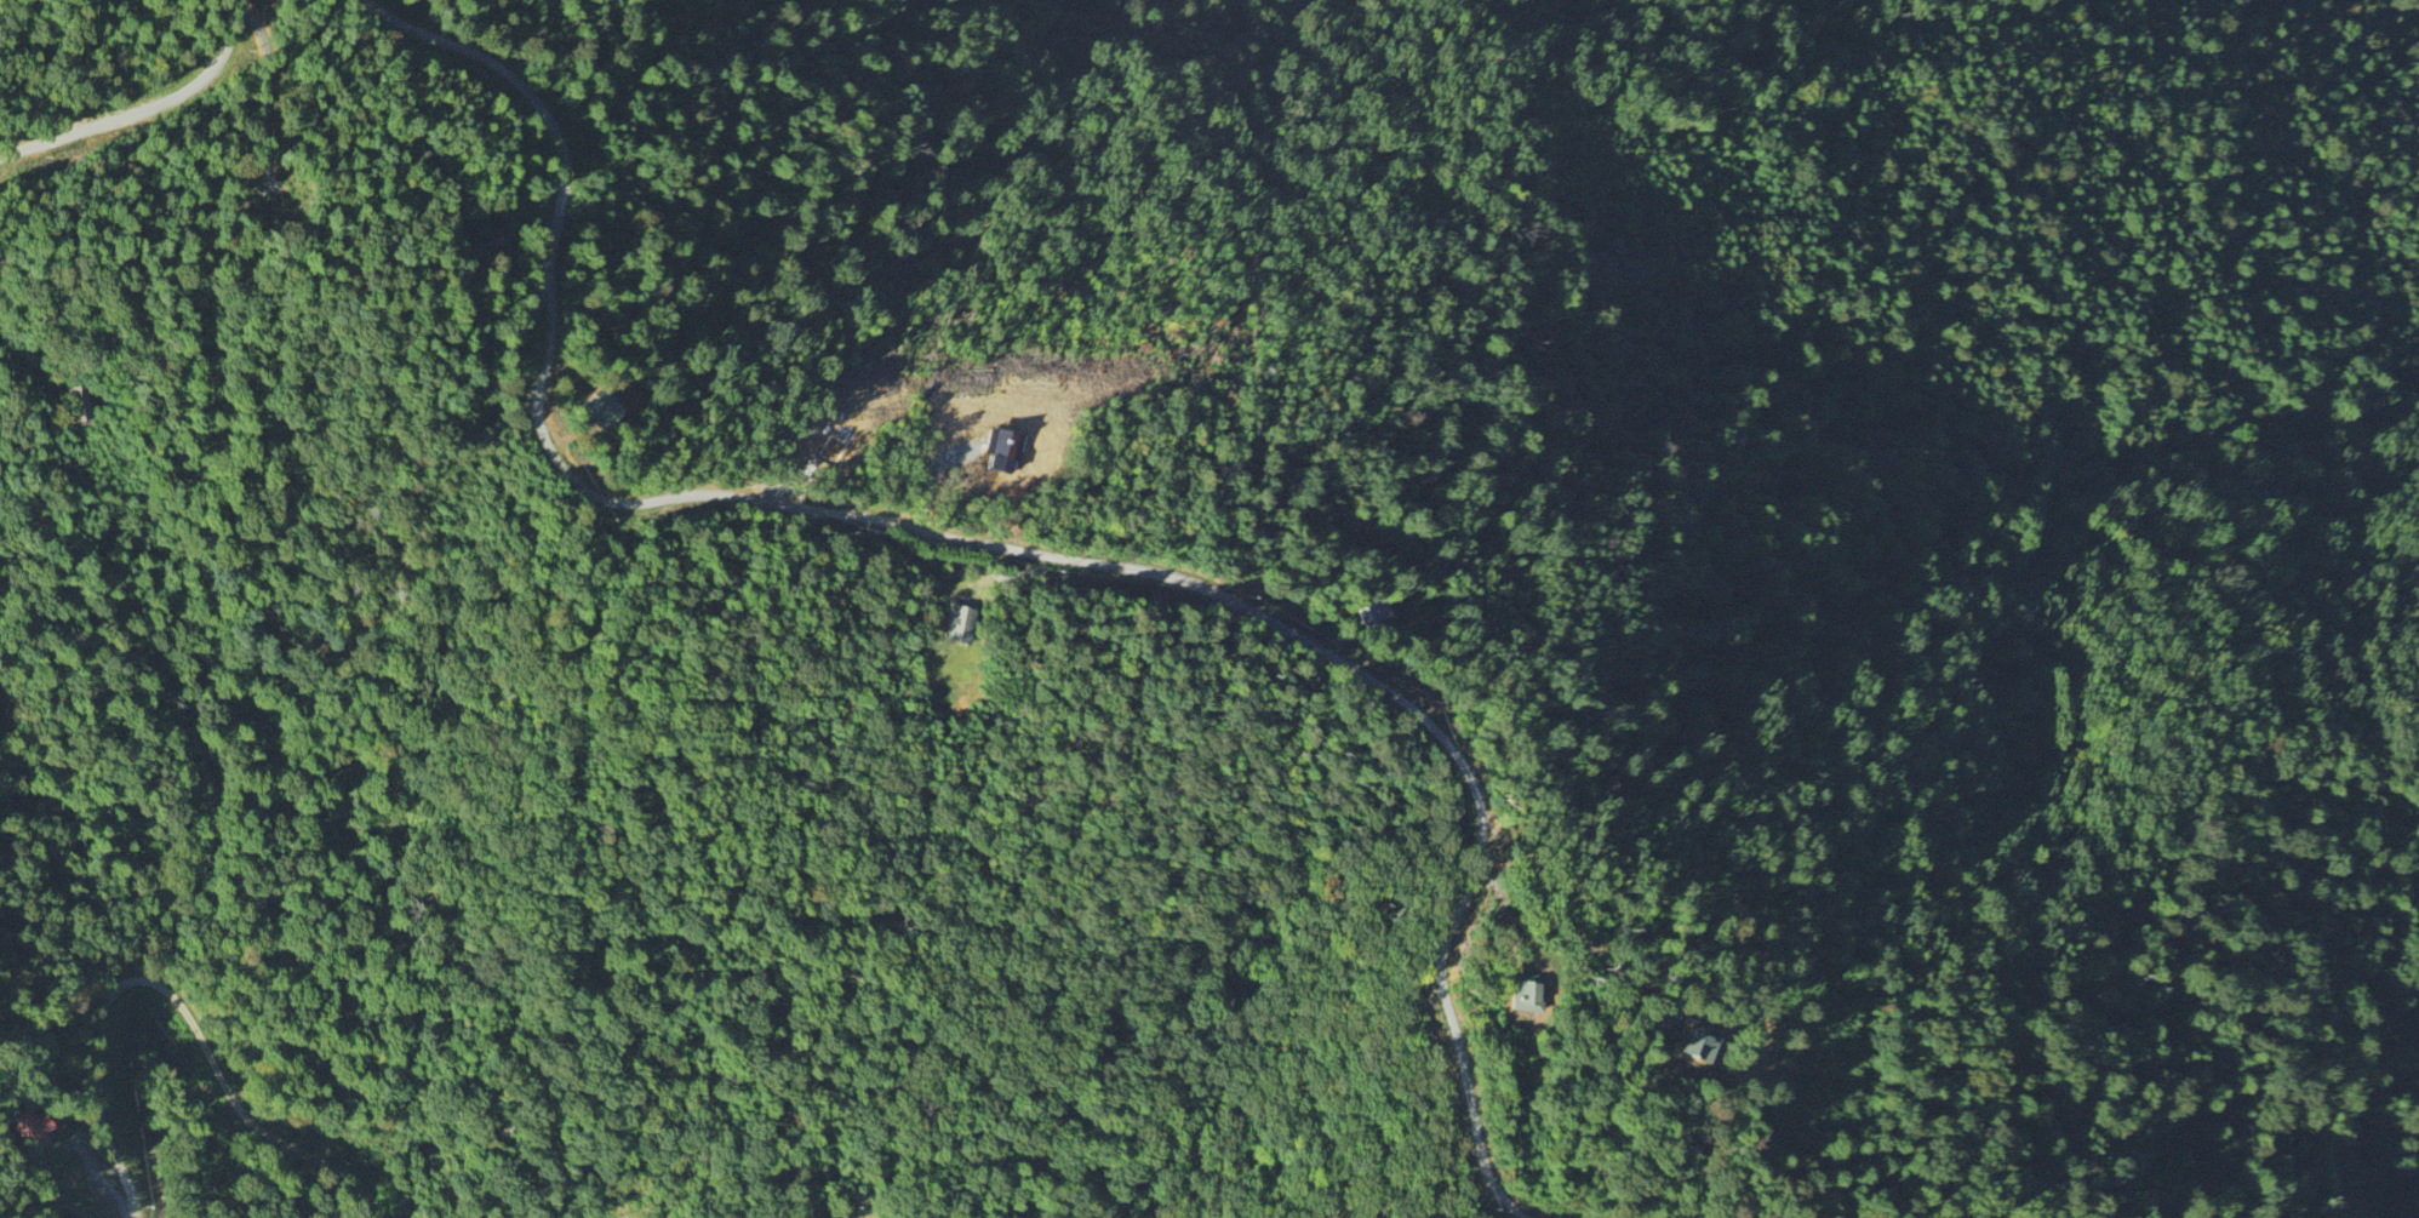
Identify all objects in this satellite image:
road: (145, 105)
building: (488, 233)
building: (76, 405)
building: (602, 410)
building: (1008, 452)
road: (993, 543)
building: (961, 625)
building: (1536, 993)
road: (172, 1001)
building: (1711, 1041)
building: (32, 1128)

